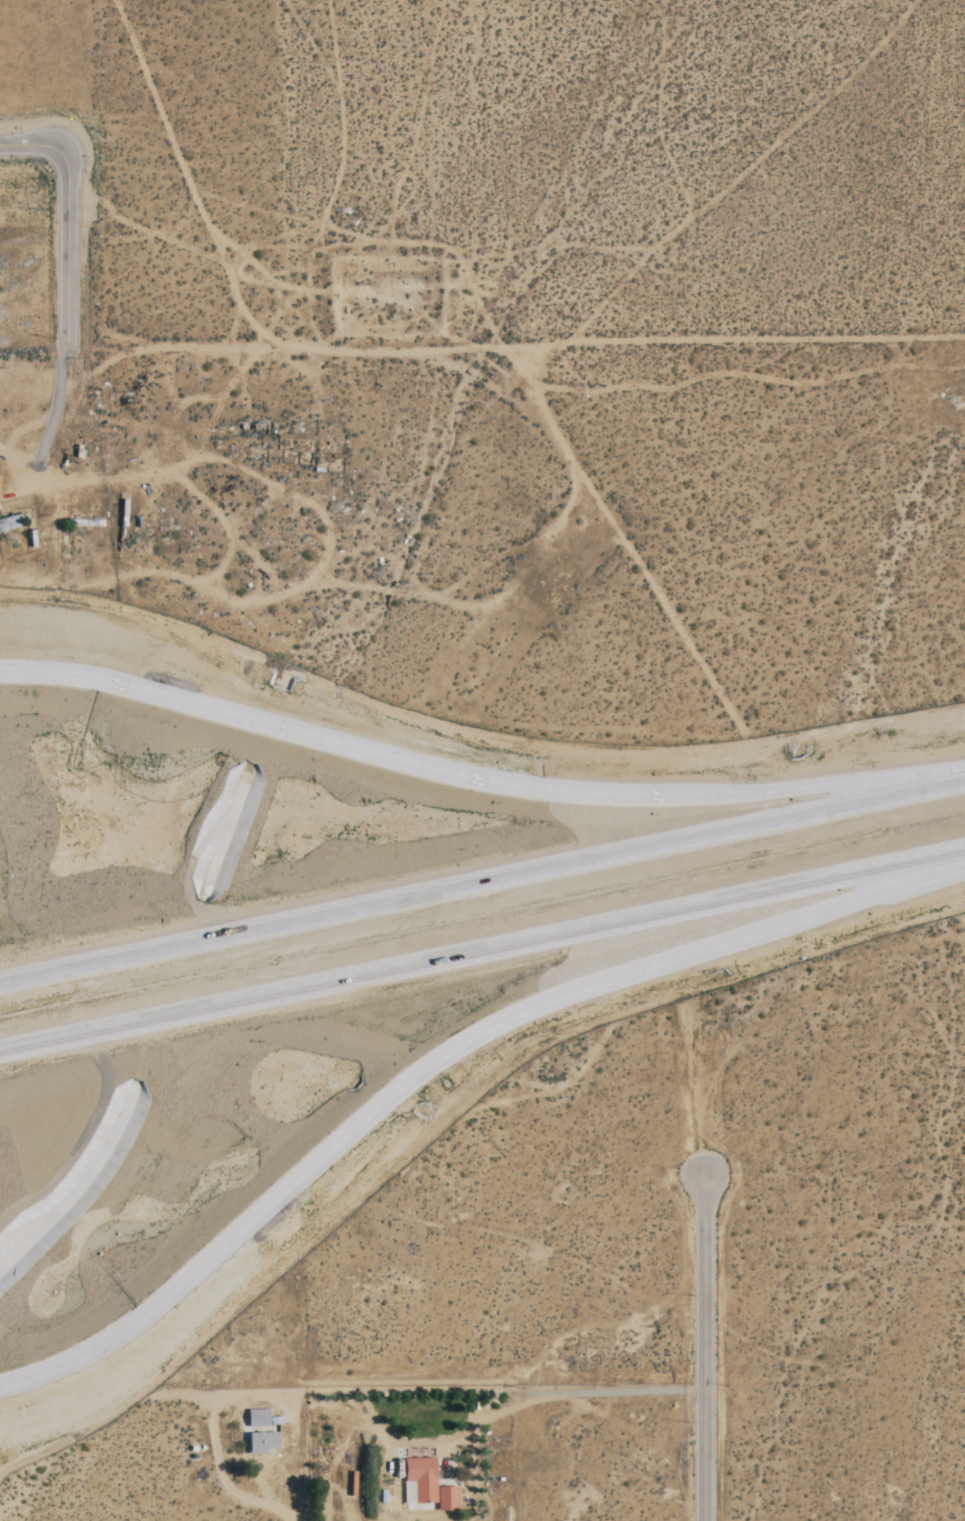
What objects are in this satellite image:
road: (32, 144)
road: (68, 243)
road: (58, 397)
building: (7, 524)
road: (477, 778)
road: (482, 882)
road: (484, 949)
road: (1, 1048)
road: (441, 1054)
road: (703, 1350)
road: (576, 1392)
building: (257, 1418)
building: (261, 1443)
building: (428, 1484)

